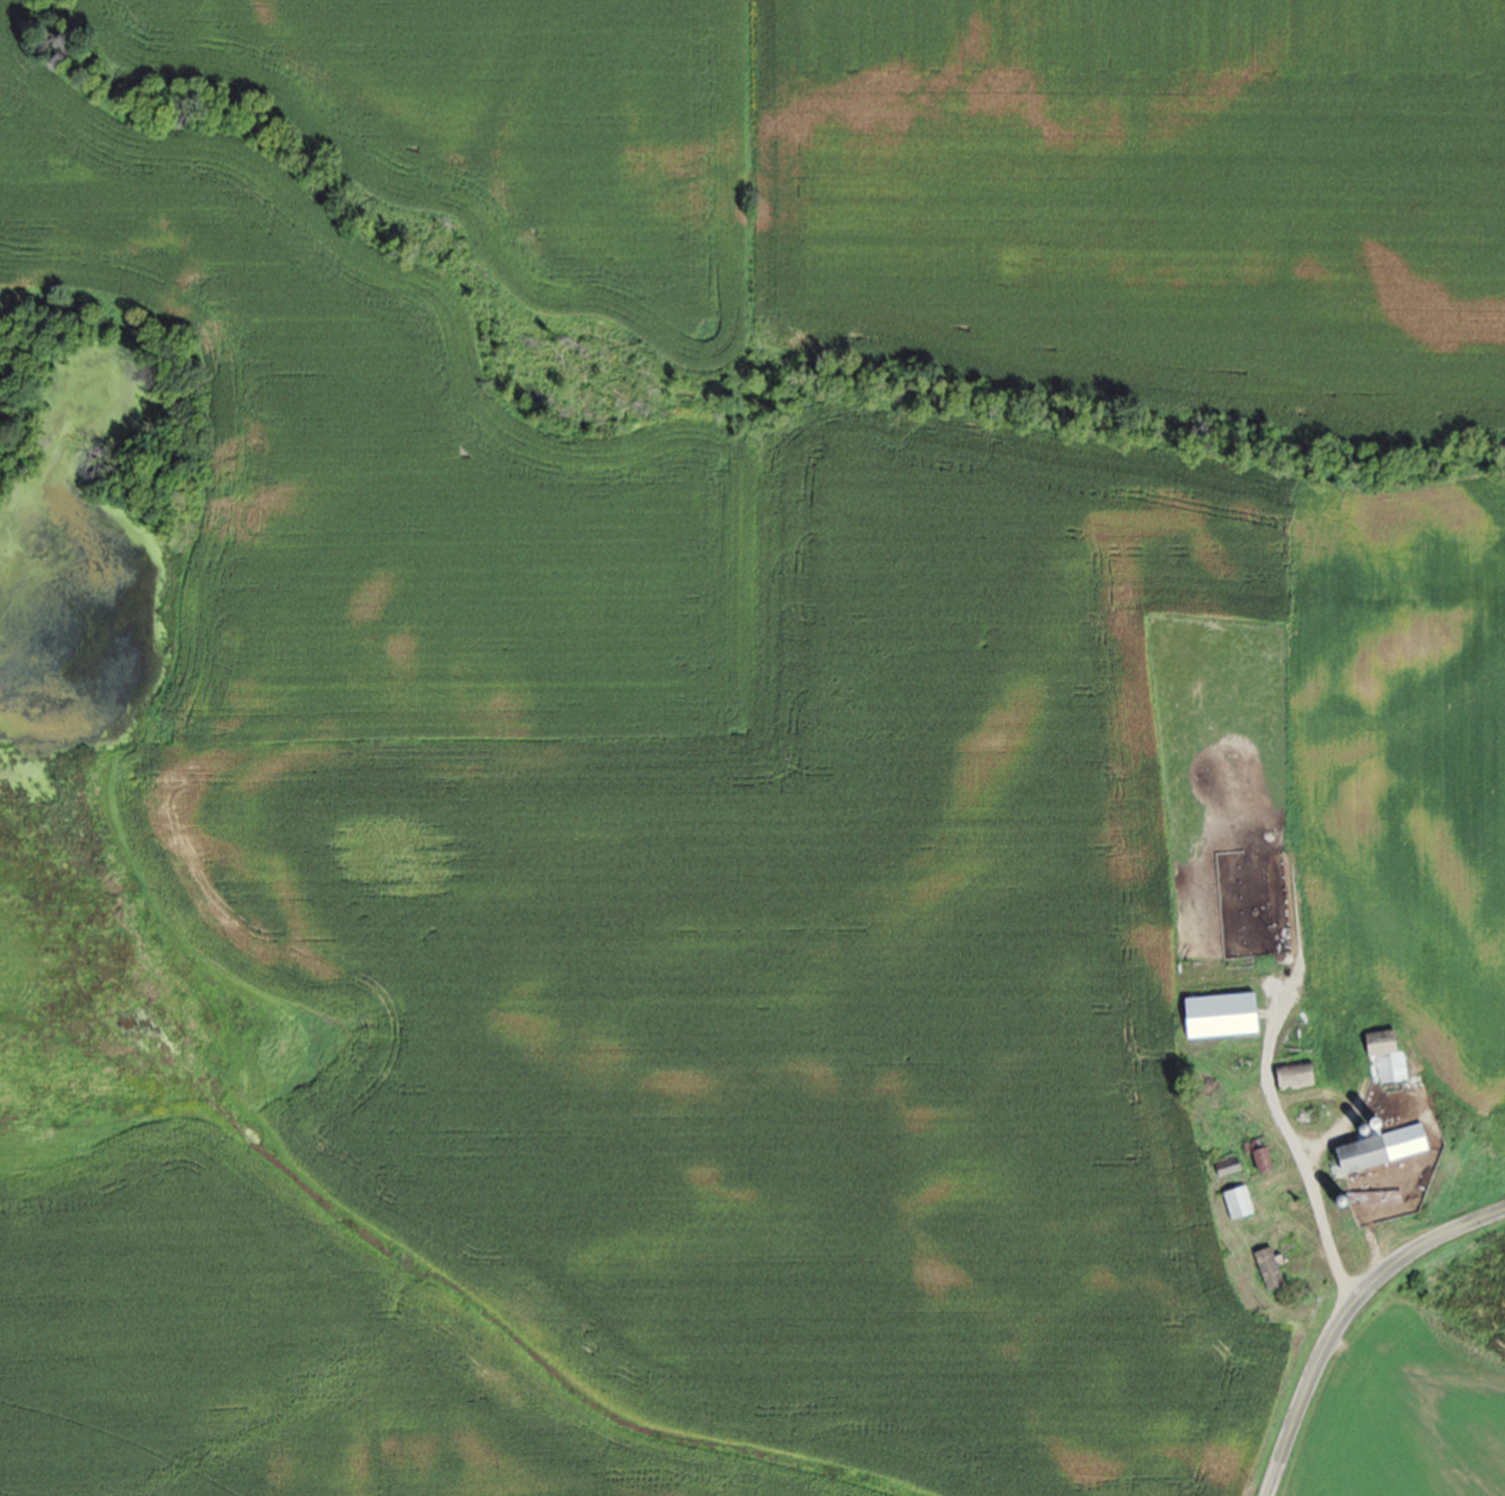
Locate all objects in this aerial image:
building: (1251, 902)
building: (1218, 1018)
building: (1381, 1060)
building: (1292, 1079)
building: (1378, 1152)
building: (1259, 1162)
building: (1226, 1170)
building: (1236, 1205)
building: (1267, 1271)
road: (1346, 1318)

